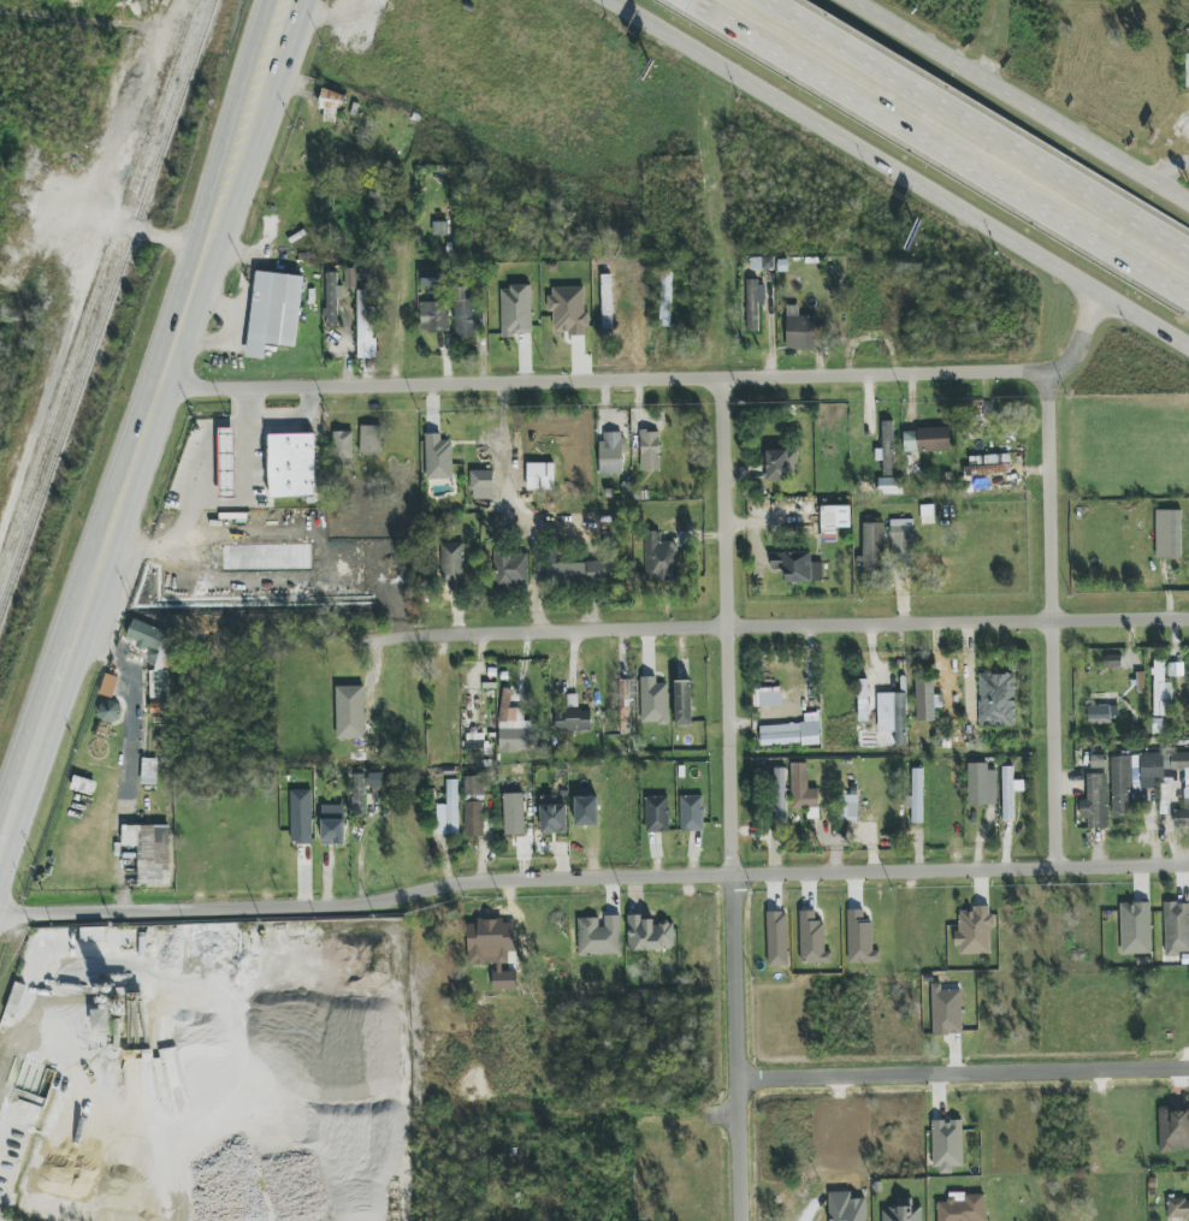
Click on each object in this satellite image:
road: (864, 59)
road: (820, 73)
road: (1019, 101)
building: (331, 106)
road: (853, 148)
road: (1073, 184)
road: (213, 194)
road: (258, 200)
road: (1066, 223)
building: (350, 279)
railway: (96, 283)
building: (666, 298)
building: (332, 300)
building: (607, 302)
building: (753, 303)
railway: (106, 307)
building: (516, 310)
building: (568, 310)
building: (273, 312)
building: (365, 315)
building: (466, 315)
building: (434, 316)
road: (1144, 319)
building: (799, 330)
road: (657, 383)
road: (295, 417)
road: (1048, 435)
building: (371, 440)
building: (927, 440)
building: (343, 445)
building: (887, 449)
building: (650, 451)
building: (611, 454)
building: (438, 457)
building: (227, 463)
building: (780, 463)
building: (988, 464)
building: (292, 467)
building: (540, 476)
building: (483, 485)
building: (889, 486)
road: (200, 487)
road: (514, 512)
building: (833, 522)
building: (1167, 534)
building: (901, 535)
building: (872, 549)
building: (661, 558)
building: (452, 565)
building: (797, 567)
building: (510, 569)
building: (575, 574)
road: (82, 617)
road: (723, 627)
road: (777, 627)
building: (1113, 662)
building: (160, 663)
road: (1049, 682)
building: (1160, 688)
building: (769, 697)
building: (863, 700)
building: (927, 700)
building: (996, 700)
building: (653, 701)
building: (682, 703)
building: (508, 710)
building: (110, 711)
building: (350, 712)
building: (1098, 715)
building: (893, 716)
building: (573, 719)
building: (792, 733)
building: (508, 746)
building: (475, 748)
building: (1099, 761)
building: (1181, 763)
building: (149, 771)
building: (1132, 778)
building: (982, 784)
building: (375, 786)
building: (473, 787)
building: (774, 789)
building: (803, 789)
building: (1008, 793)
building: (357, 795)
building: (917, 795)
building: (1095, 802)
building: (848, 807)
building: (449, 811)
building: (586, 811)
building: (692, 813)
building: (1183, 813)
building: (514, 814)
building: (657, 814)
building: (301, 817)
building: (554, 817)
building: (474, 818)
building: (332, 829)
building: (150, 852)
road: (593, 879)
building: (1135, 927)
building: (1176, 929)
building: (975, 931)
building: (649, 933)
building: (599, 936)
building: (776, 938)
building: (860, 938)
building: (812, 940)
building: (946, 1010)
building: (100, 1020)
road: (737, 1047)
road: (963, 1069)
building: (1173, 1128)
building: (947, 1145)
building: (962, 1209)
building: (1178, 1209)
building: (903, 1211)

